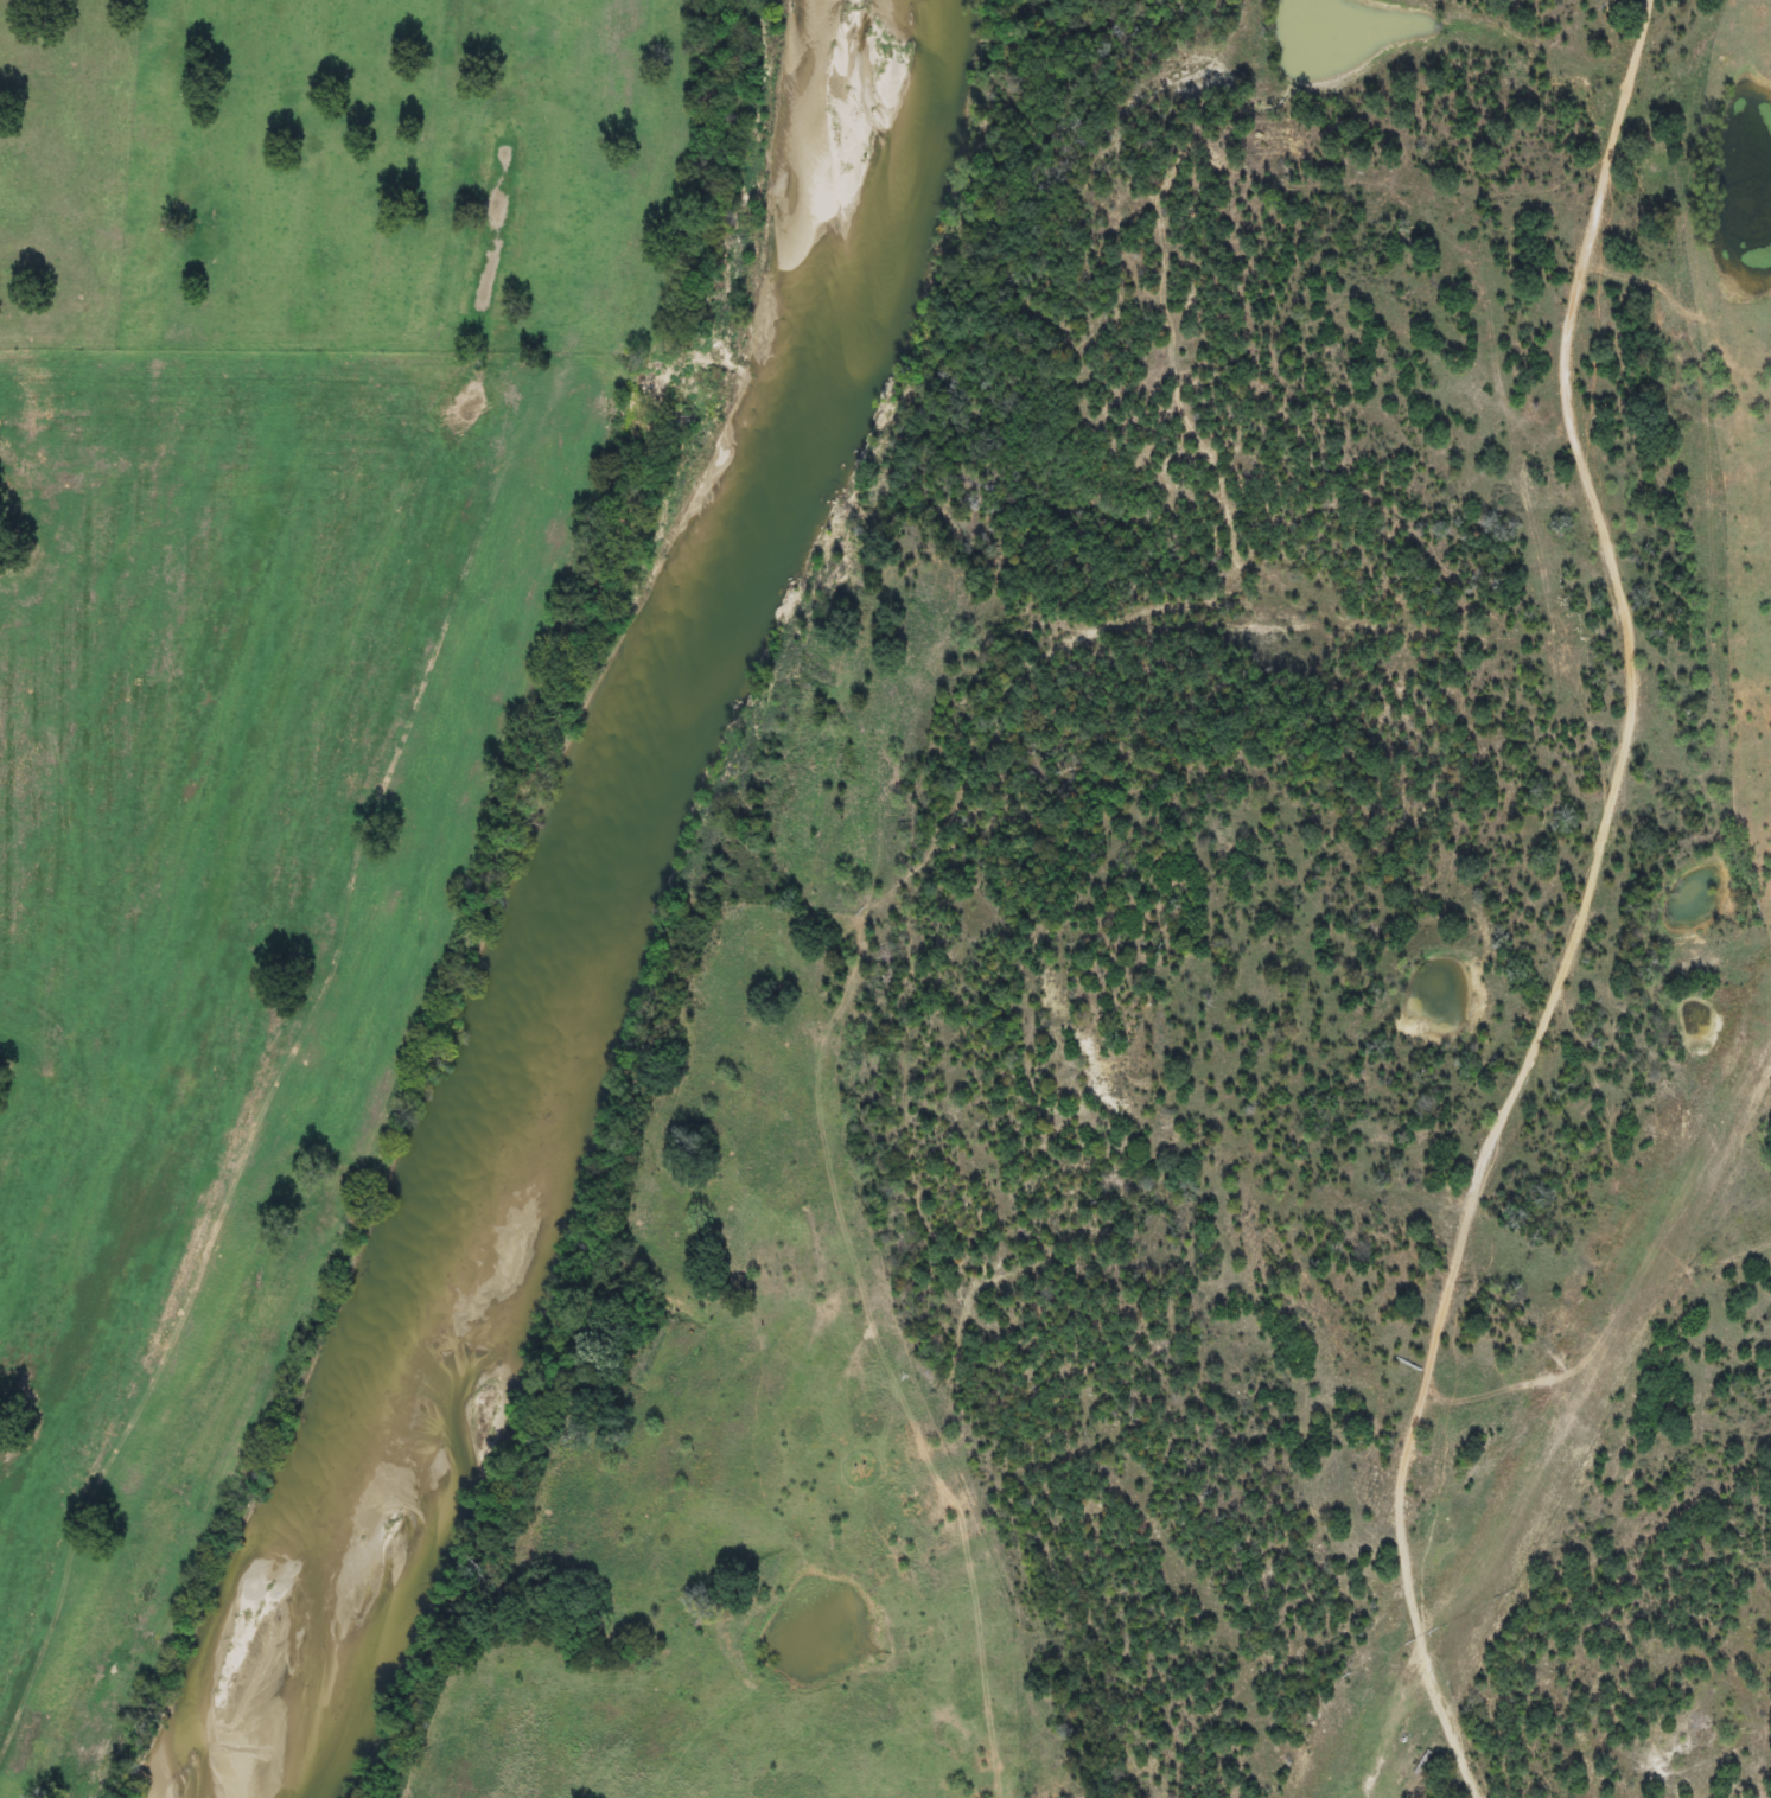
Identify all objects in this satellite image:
river: (887, 230)
river: (580, 914)

